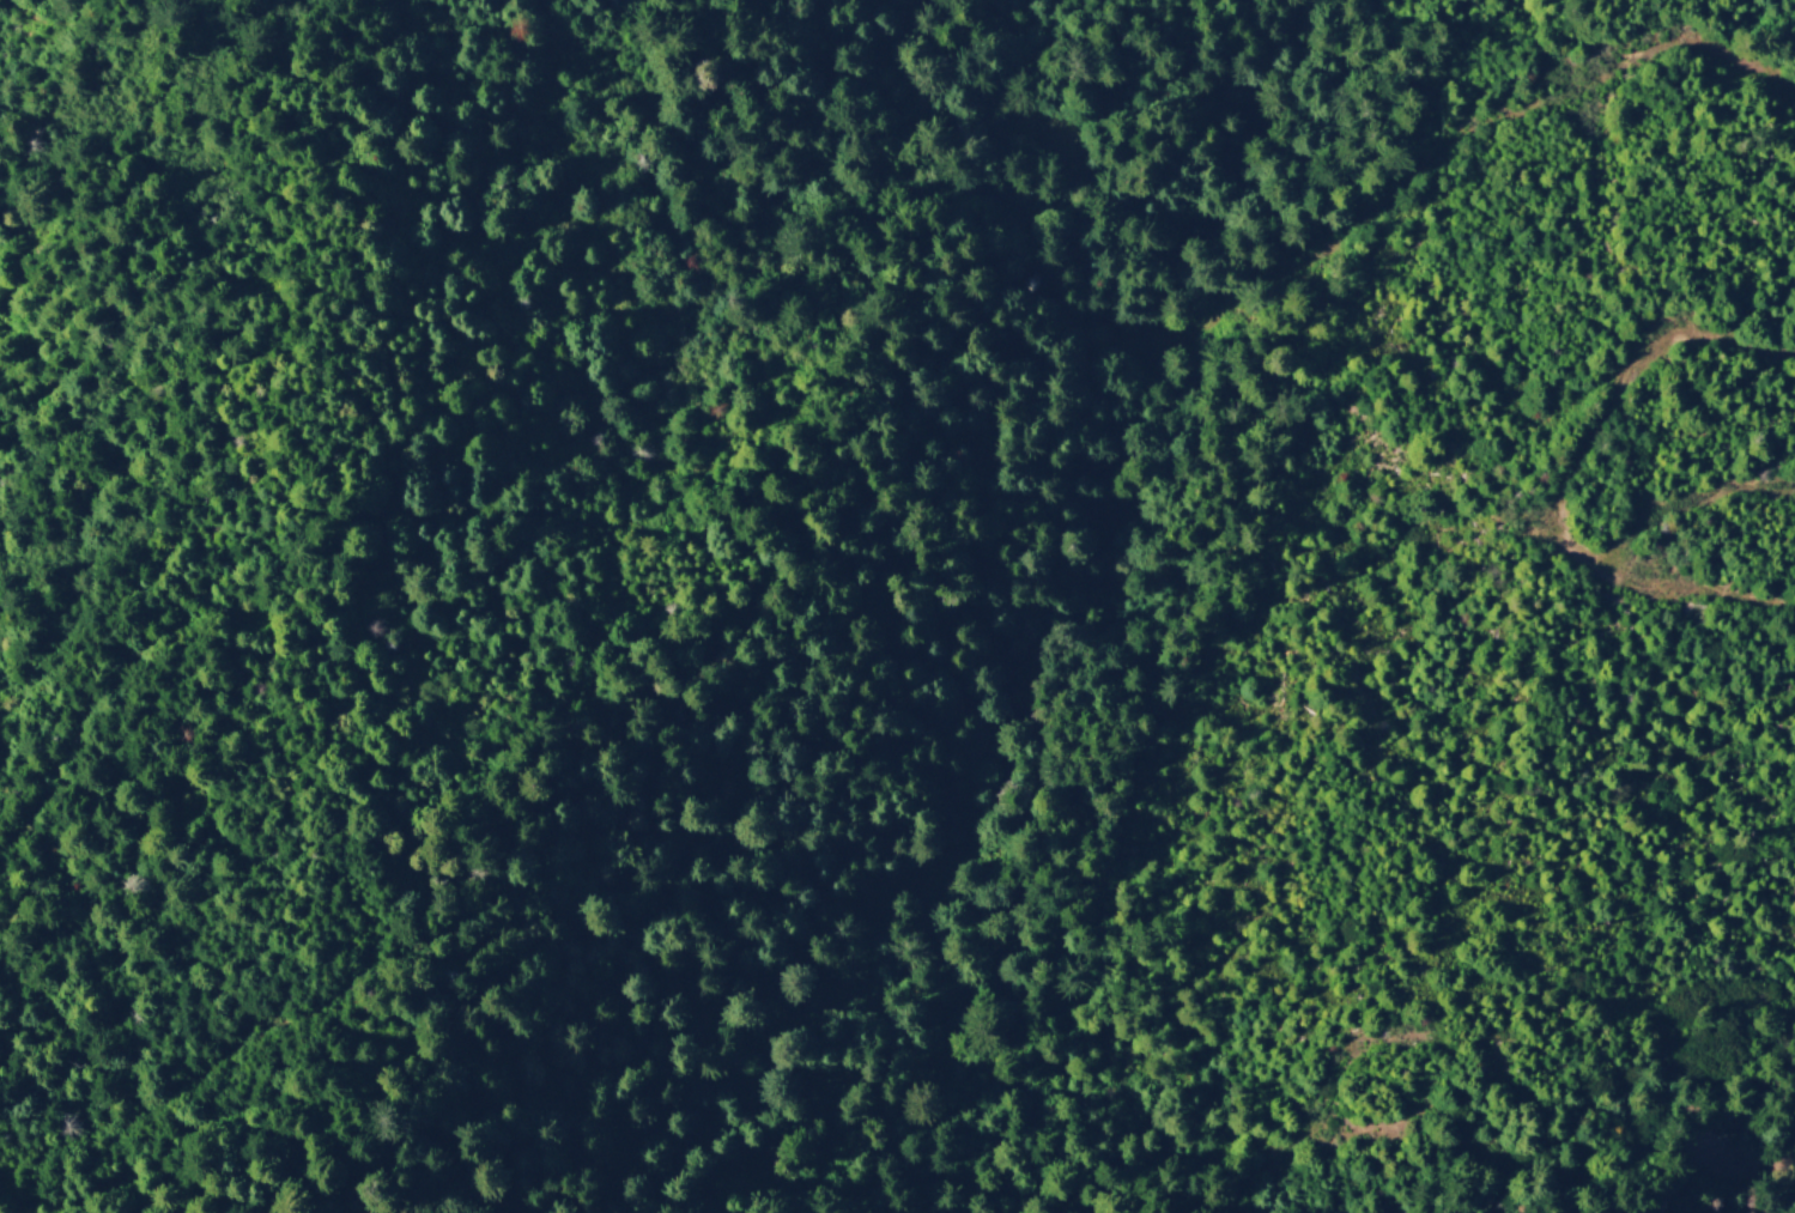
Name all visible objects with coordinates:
road: (1572, 92)

